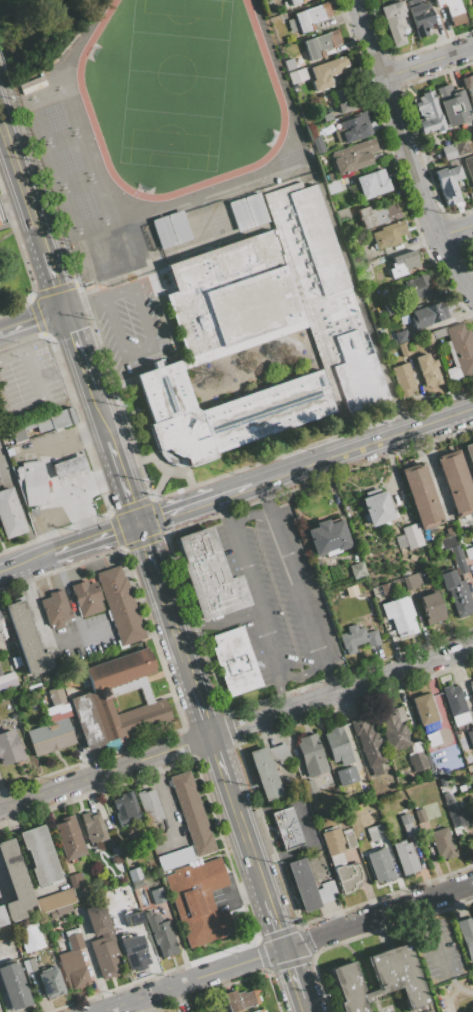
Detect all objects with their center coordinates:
building: (294, 2)
building: (452, 10)
building: (318, 13)
building: (420, 16)
building: (302, 21)
building: (394, 21)
building: (292, 26)
building: (321, 44)
road: (426, 61)
building: (289, 64)
building: (327, 72)
building: (297, 76)
park: (175, 83)
building: (468, 86)
track: (179, 94)
building: (346, 101)
building: (452, 104)
building: (428, 113)
building: (327, 116)
building: (353, 128)
building: (318, 144)
building: (460, 147)
road: (404, 149)
building: (448, 152)
building: (353, 156)
park: (69, 158)
building: (469, 167)
building: (329, 176)
road: (22, 182)
building: (373, 183)
building: (449, 184)
building: (332, 186)
building: (350, 194)
road: (68, 195)
building: (255, 209)
building: (239, 214)
building: (341, 214)
building: (377, 215)
building: (179, 227)
building: (344, 227)
road: (454, 230)
building: (162, 232)
building: (389, 234)
road: (6, 235)
building: (354, 253)
building: (403, 263)
park: (11, 268)
building: (361, 272)
road: (55, 280)
building: (422, 285)
building: (277, 297)
road: (28, 298)
road: (85, 304)
building: (392, 308)
traffic signals: (65, 310)
building: (429, 313)
building: (403, 318)
road: (32, 321)
building: (438, 333)
building: (401, 336)
road: (151, 343)
building: (404, 348)
road: (78, 350)
building: (459, 352)
building: (428, 370)
building: (404, 379)
road: (39, 390)
building: (223, 412)
building: (26, 413)
road: (100, 415)
building: (43, 423)
road: (399, 433)
road: (49, 446)
building: (469, 454)
building: (69, 466)
road: (291, 472)
building: (0, 480)
building: (456, 482)
building: (0, 483)
building: (32, 483)
road: (122, 483)
road: (86, 485)
road: (236, 491)
building: (421, 495)
building: (376, 507)
road: (176, 512)
road: (60, 513)
building: (10, 514)
road: (245, 516)
traffic signals: (137, 526)
building: (328, 536)
building: (409, 538)
road: (94, 539)
building: (447, 542)
road: (145, 548)
building: (469, 552)
building: (459, 559)
road: (26, 562)
building: (356, 570)
building: (472, 570)
building: (208, 576)
building: (411, 581)
road: (294, 588)
building: (382, 590)
building: (457, 593)
road: (69, 595)
building: (85, 597)
road: (251, 603)
road: (34, 604)
building: (120, 604)
building: (55, 608)
building: (431, 608)
road: (167, 615)
building: (400, 616)
building: (2, 630)
building: (356, 638)
building: (27, 641)
building: (15, 661)
building: (235, 661)
road: (300, 672)
road: (187, 673)
building: (7, 680)
building: (31, 684)
building: (471, 685)
road: (341, 690)
building: (56, 695)
building: (88, 699)
building: (455, 705)
road: (200, 711)
building: (425, 711)
building: (54, 712)
building: (400, 713)
building: (4, 721)
building: (394, 730)
building: (50, 737)
building: (470, 737)
building: (433, 738)
building: (463, 743)
building: (369, 744)
building: (337, 745)
building: (9, 748)
building: (278, 753)
building: (310, 755)
building: (469, 757)
building: (417, 758)
road: (218, 760)
road: (104, 772)
building: (264, 773)
building: (342, 774)
building: (471, 777)
building: (441, 782)
building: (308, 786)
building: (434, 786)
building: (461, 788)
road: (231, 797)
building: (417, 804)
building: (149, 805)
building: (125, 808)
building: (434, 808)
building: (453, 811)
building: (192, 813)
building: (420, 815)
building: (406, 824)
building: (306, 825)
building: (94, 826)
building: (169, 828)
building: (286, 828)
building: (376, 832)
road: (245, 837)
building: (69, 838)
building: (350, 840)
building: (443, 843)
building: (333, 845)
building: (115, 849)
building: (40, 855)
building: (405, 857)
building: (380, 864)
building: (135, 873)
building: (347, 877)
building: (15, 880)
building: (74, 880)
road: (260, 881)
building: (302, 884)
building: (326, 892)
building: (158, 895)
building: (55, 899)
building: (112, 899)
building: (202, 903)
building: (63, 910)
building: (2, 917)
building: (134, 918)
road: (275, 923)
building: (5, 932)
building: (161, 934)
building: (467, 934)
building: (30, 936)
building: (74, 938)
building: (103, 942)
road: (285, 947)
traffic signals: (283, 948)
building: (134, 953)
building: (29, 964)
building: (74, 970)
road: (291, 973)
building: (380, 980)
building: (51, 983)
building: (13, 987)
building: (240, 999)
road: (303, 1005)
building: (223, 1009)
building: (387, 1009)
building: (259, 1011)
building: (429, 1011)

